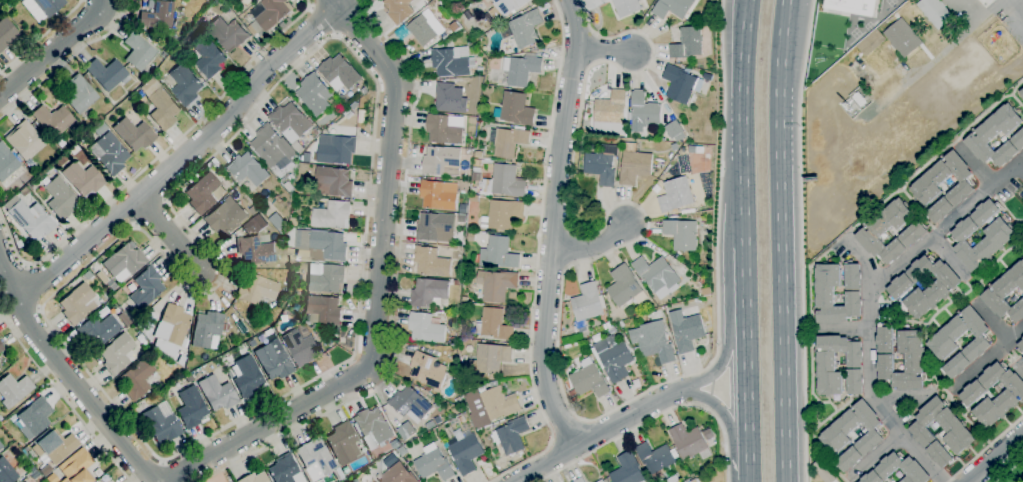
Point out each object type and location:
building: (603, 0)
building: (241, 1)
road: (366, 2)
park: (889, 2)
road: (311, 3)
building: (851, 6)
building: (42, 7)
building: (626, 7)
building: (505, 8)
building: (673, 8)
building: (399, 10)
building: (935, 12)
building: (271, 13)
building: (157, 15)
building: (703, 17)
building: (200, 19)
road: (322, 21)
road: (353, 21)
building: (455, 26)
park: (867, 26)
building: (425, 29)
building: (526, 29)
building: (252, 30)
park: (853, 32)
building: (7, 33)
building: (227, 33)
road: (41, 37)
building: (902, 38)
building: (870, 42)
building: (687, 44)
road: (54, 49)
building: (138, 51)
road: (605, 51)
building: (207, 57)
road: (936, 59)
road: (67, 60)
building: (452, 62)
building: (521, 70)
building: (479, 71)
building: (339, 72)
building: (106, 73)
building: (185, 84)
building: (683, 84)
building: (472, 85)
building: (364, 91)
building: (80, 94)
building: (314, 94)
building: (1021, 94)
building: (450, 98)
building: (859, 99)
road: (376, 101)
building: (160, 104)
building: (515, 110)
building: (643, 112)
building: (611, 114)
building: (52, 119)
road: (743, 122)
building: (291, 124)
building: (443, 130)
building: (707, 130)
building: (676, 132)
building: (134, 134)
building: (987, 135)
building: (24, 140)
building: (508, 141)
building: (272, 148)
building: (74, 149)
building: (336, 149)
building: (108, 150)
building: (469, 152)
road: (186, 154)
road: (153, 161)
building: (442, 161)
building: (6, 162)
building: (602, 165)
building: (634, 165)
road: (1021, 165)
road: (974, 166)
building: (247, 169)
building: (302, 173)
building: (83, 178)
building: (335, 182)
building: (504, 182)
building: (288, 187)
building: (924, 188)
building: (203, 192)
building: (439, 195)
building: (675, 195)
road: (978, 196)
building: (60, 198)
building: (254, 210)
building: (504, 214)
building: (332, 215)
building: (226, 217)
building: (32, 219)
road: (552, 226)
building: (436, 227)
building: (915, 231)
road: (170, 233)
building: (681, 234)
building: (471, 237)
building: (999, 238)
road: (780, 240)
road: (801, 240)
road: (592, 245)
building: (327, 246)
building: (255, 250)
building: (499, 253)
road: (950, 256)
road: (537, 258)
road: (860, 259)
building: (124, 262)
building: (431, 262)
building: (87, 274)
building: (101, 276)
building: (657, 276)
building: (325, 278)
building: (457, 283)
building: (497, 284)
road: (32, 287)
building: (146, 287)
building: (625, 287)
building: (899, 287)
building: (256, 288)
road: (378, 290)
road: (395, 290)
road: (746, 290)
building: (429, 293)
building: (1006, 294)
building: (824, 295)
building: (465, 299)
building: (76, 303)
building: (586, 307)
building: (144, 309)
building: (322, 311)
building: (123, 318)
road: (990, 321)
building: (143, 325)
building: (493, 325)
road: (559, 325)
building: (225, 326)
building: (172, 328)
building: (206, 328)
building: (426, 328)
road: (843, 328)
building: (97, 331)
building: (686, 331)
building: (1022, 339)
building: (452, 341)
building: (653, 341)
building: (143, 342)
building: (252, 343)
building: (941, 343)
building: (1021, 345)
building: (1, 347)
building: (301, 347)
building: (636, 350)
building: (116, 353)
building: (1022, 354)
building: (613, 357)
road: (868, 358)
building: (913, 358)
building: (1022, 358)
building: (274, 359)
building: (490, 359)
road: (985, 359)
building: (168, 363)
building: (181, 363)
road: (718, 364)
building: (826, 365)
road: (1018, 368)
building: (428, 371)
road: (70, 372)
building: (246, 376)
building: (136, 378)
building: (188, 378)
building: (589, 379)
building: (14, 389)
road: (748, 392)
building: (217, 393)
building: (572, 393)
road: (902, 394)
road: (63, 396)
building: (970, 396)
building: (458, 400)
building: (410, 405)
building: (490, 405)
building: (191, 407)
road: (722, 413)
building: (34, 417)
road: (655, 418)
building: (460, 419)
building: (161, 425)
building: (430, 425)
building: (372, 427)
road: (568, 432)
building: (957, 432)
building: (708, 434)
road: (599, 435)
building: (511, 436)
building: (833, 437)
building: (689, 442)
building: (342, 443)
building: (1, 445)
building: (54, 446)
road: (985, 449)
building: (402, 451)
building: (464, 451)
road: (874, 456)
road: (994, 457)
building: (317, 459)
building: (656, 460)
building: (434, 465)
road: (749, 466)
building: (899, 466)
building: (77, 467)
building: (285, 469)
building: (45, 470)
road: (172, 470)
building: (628, 470)
building: (6, 471)
road: (1008, 471)
building: (823, 472)
building: (397, 475)
building: (51, 478)
building: (254, 478)
building: (103, 479)
building: (673, 479)
building: (580, 480)
building: (695, 480)
building: (23, 481)
building: (601, 481)

